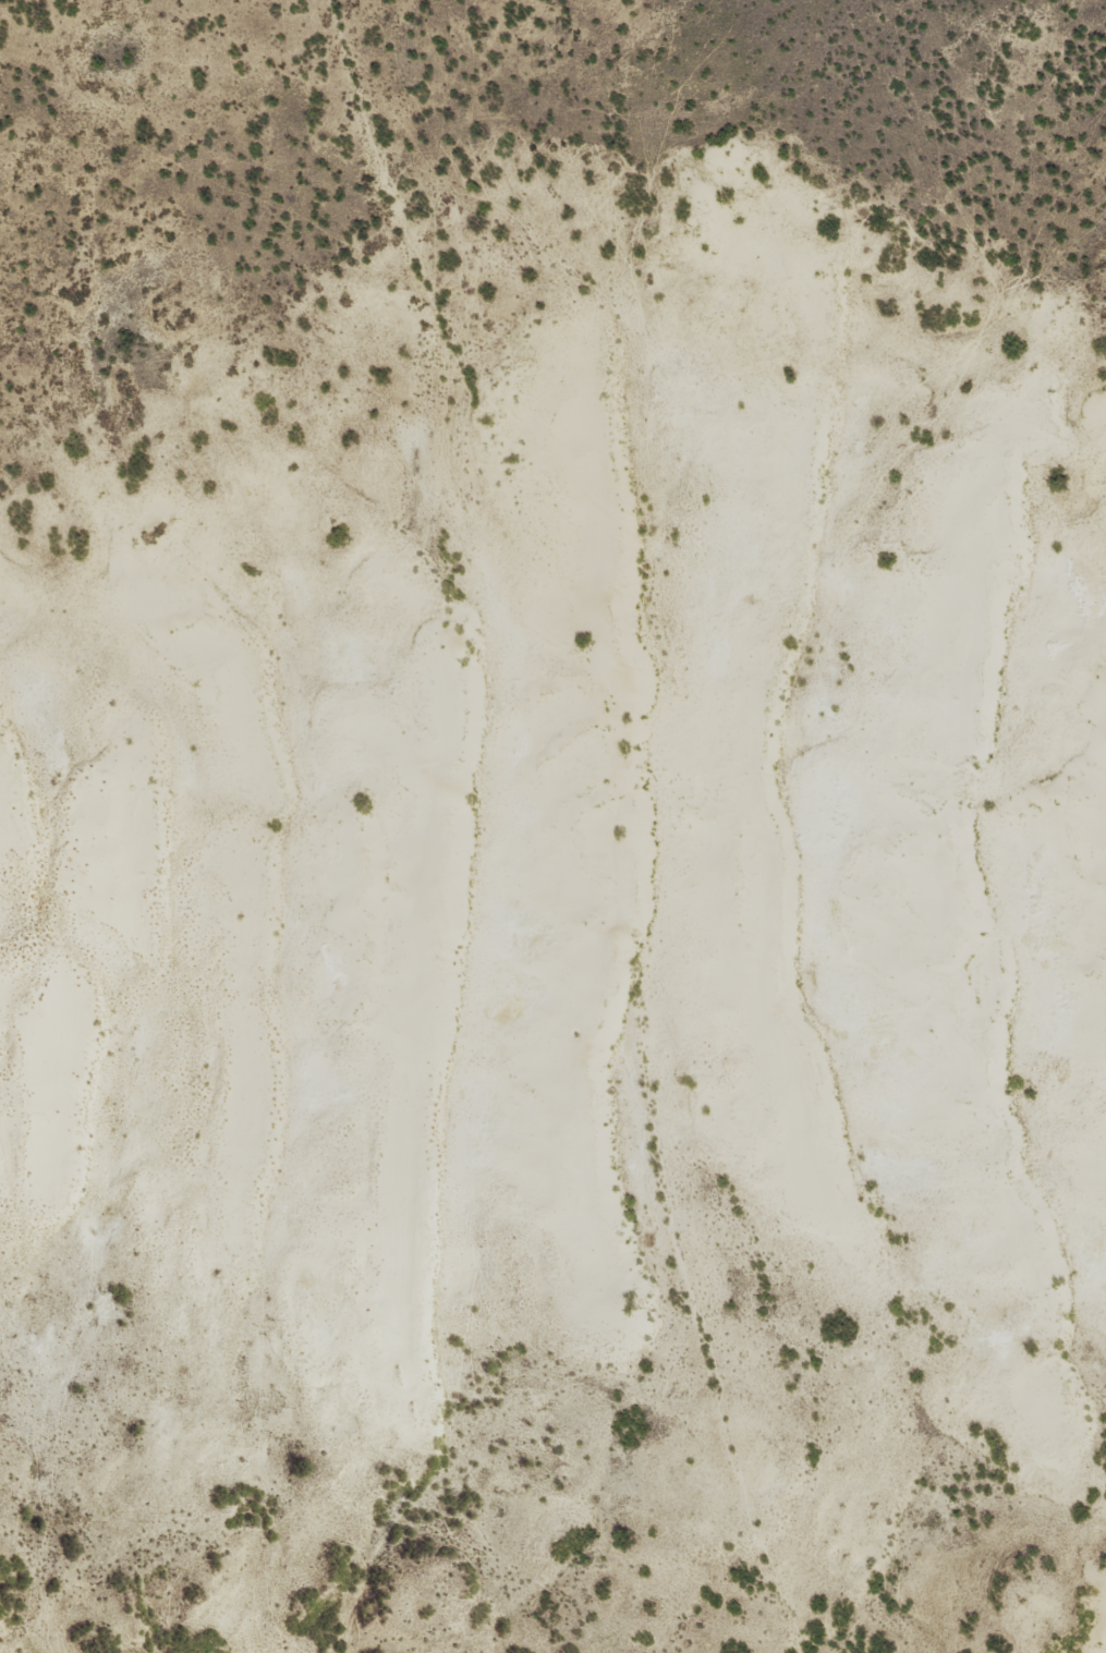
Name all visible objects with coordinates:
road: (358, 119)
road: (801, 1643)

